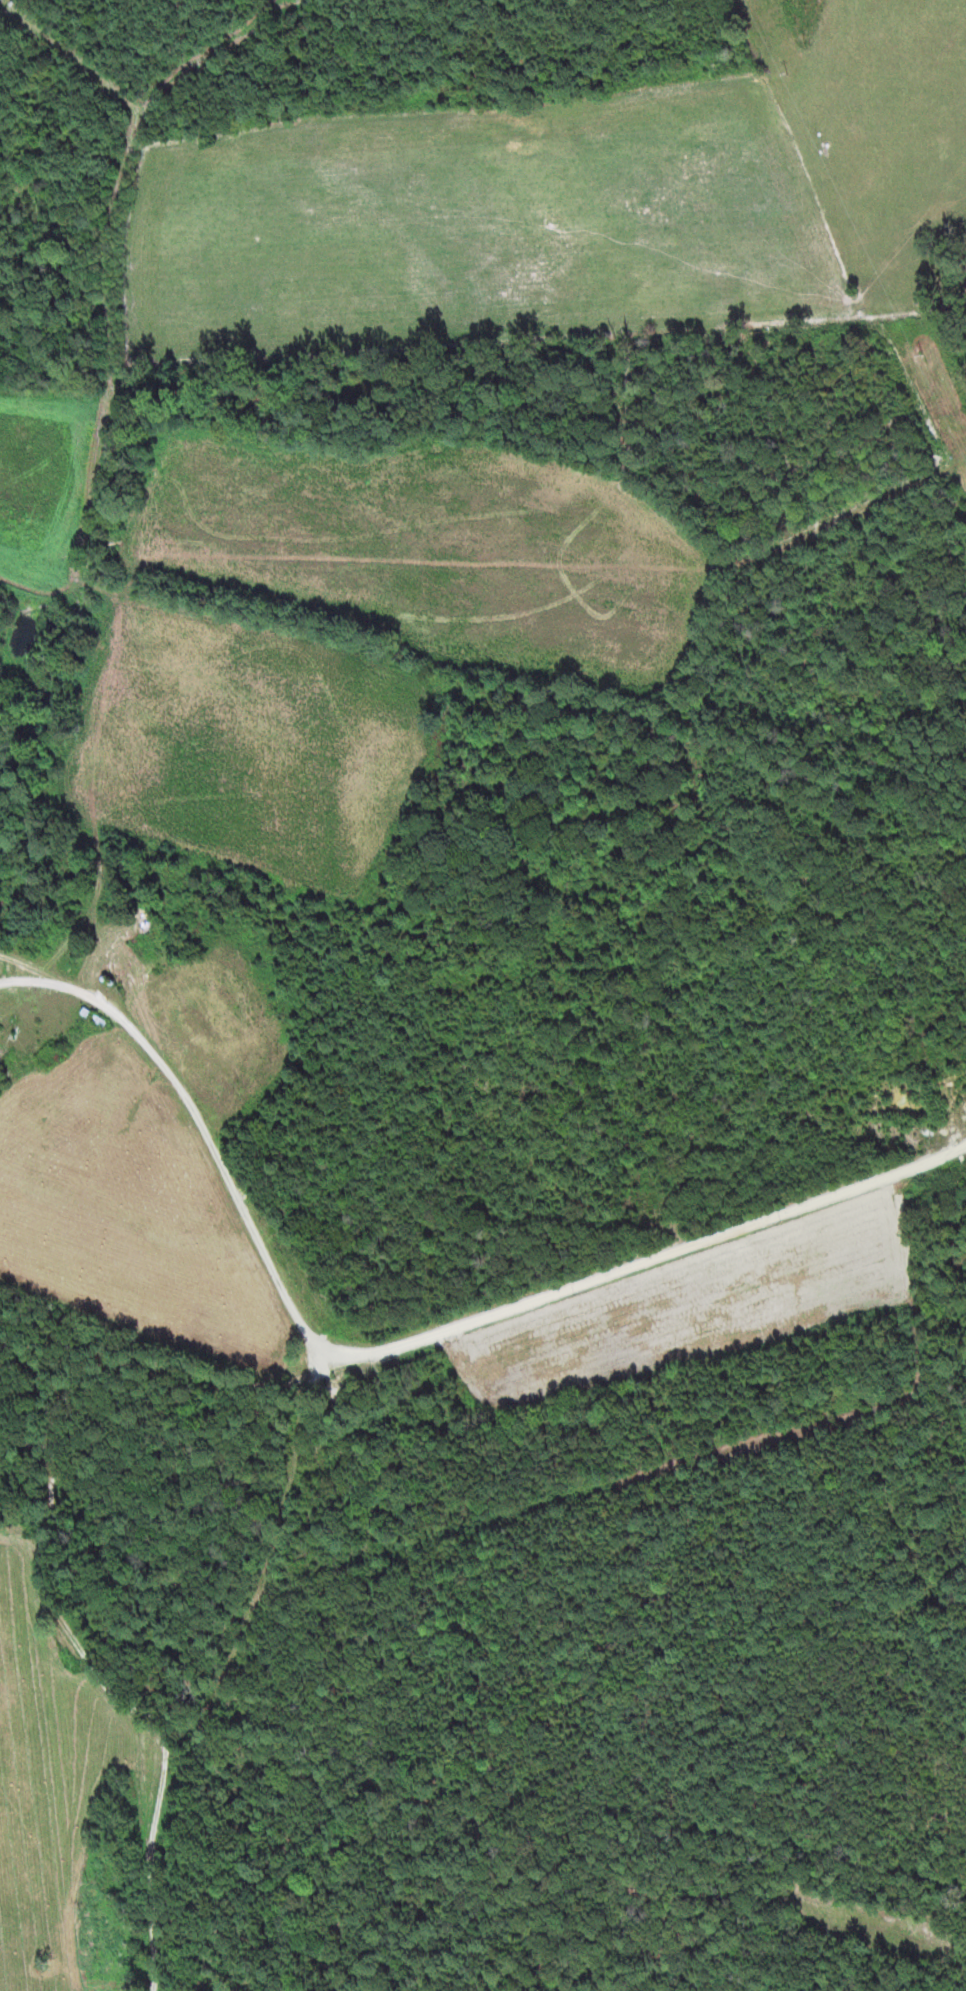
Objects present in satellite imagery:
building: (102, 1022)
road: (382, 1369)

